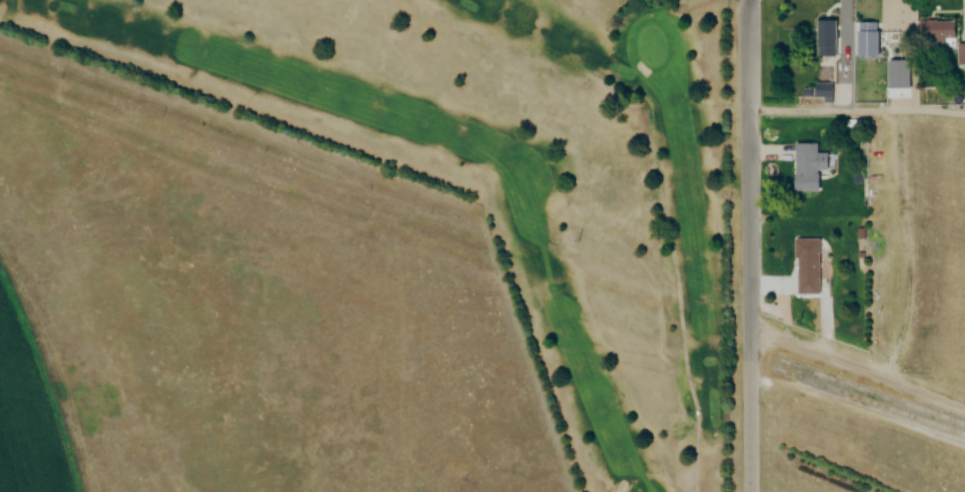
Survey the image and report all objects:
building: (933, 36)
building: (822, 39)
building: (865, 40)
building: (959, 55)
building: (819, 91)
building: (805, 167)
park: (520, 178)
road: (752, 245)
building: (804, 267)
road: (859, 370)
railway: (872, 392)
railway: (868, 400)

